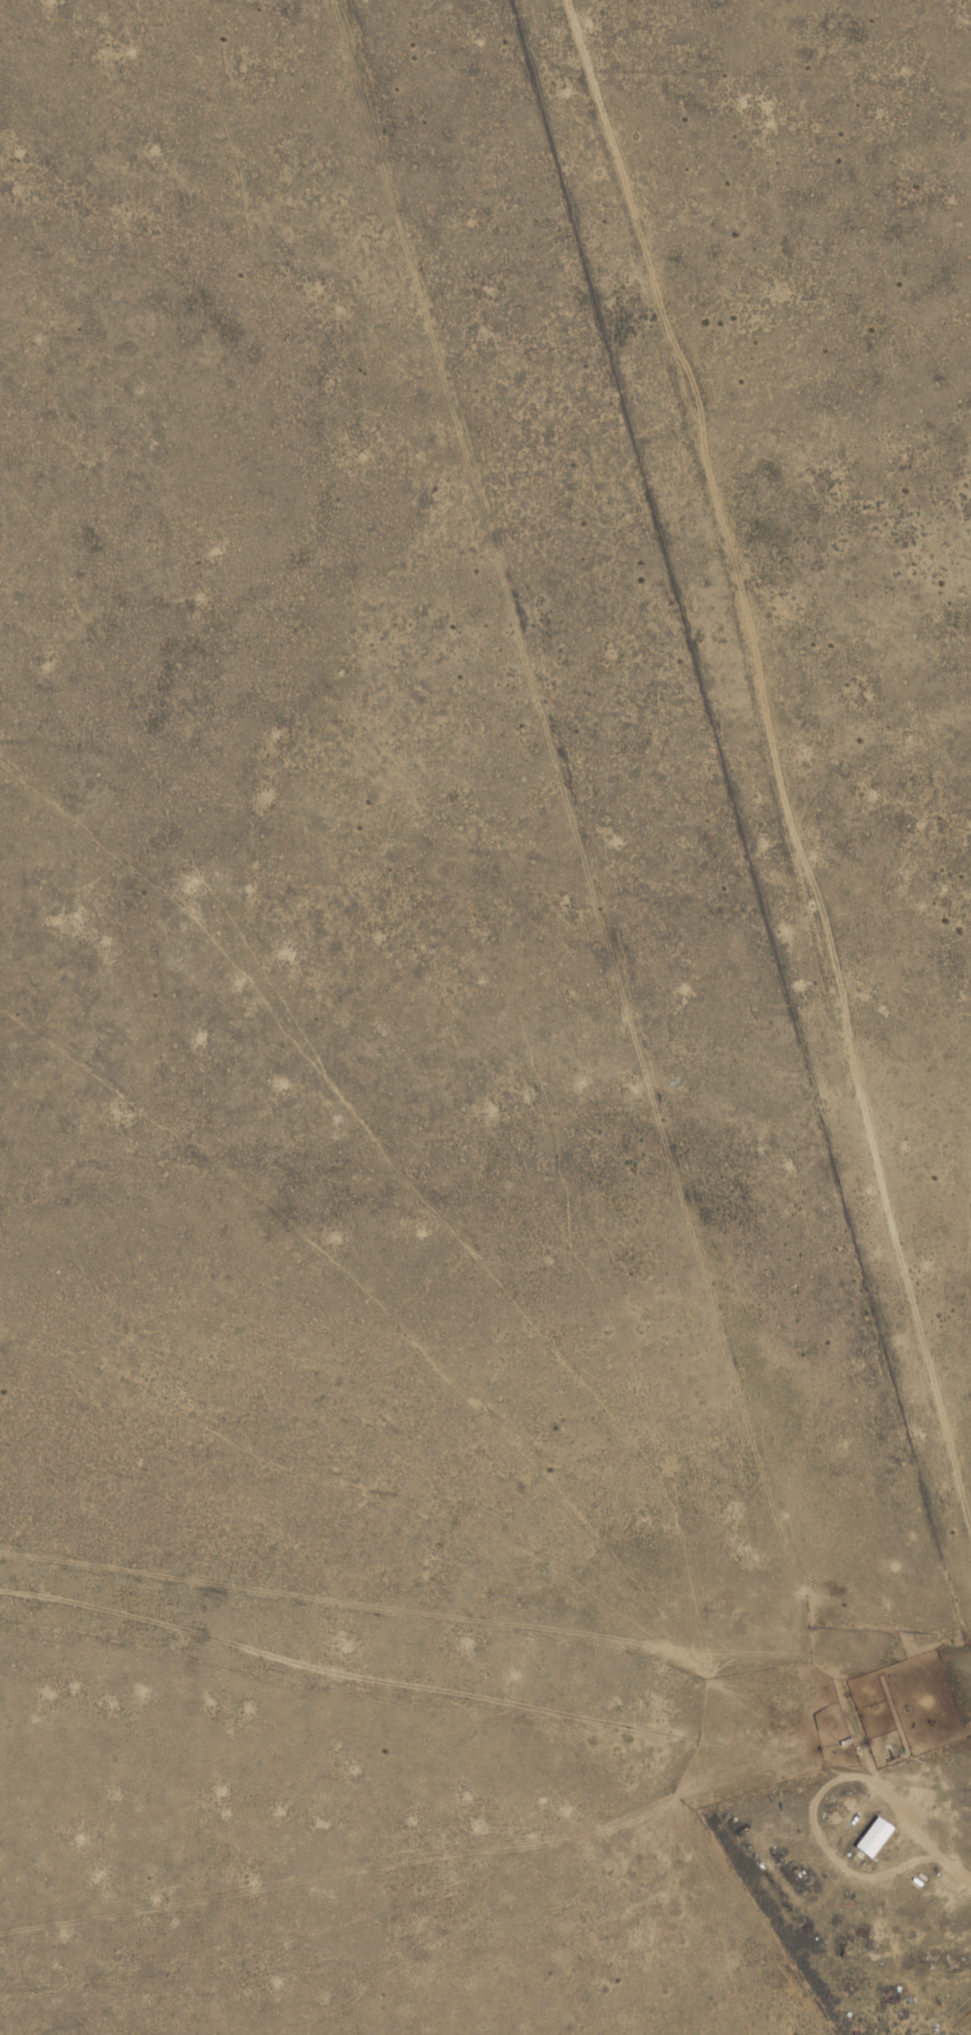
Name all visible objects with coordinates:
building: (875, 1838)

